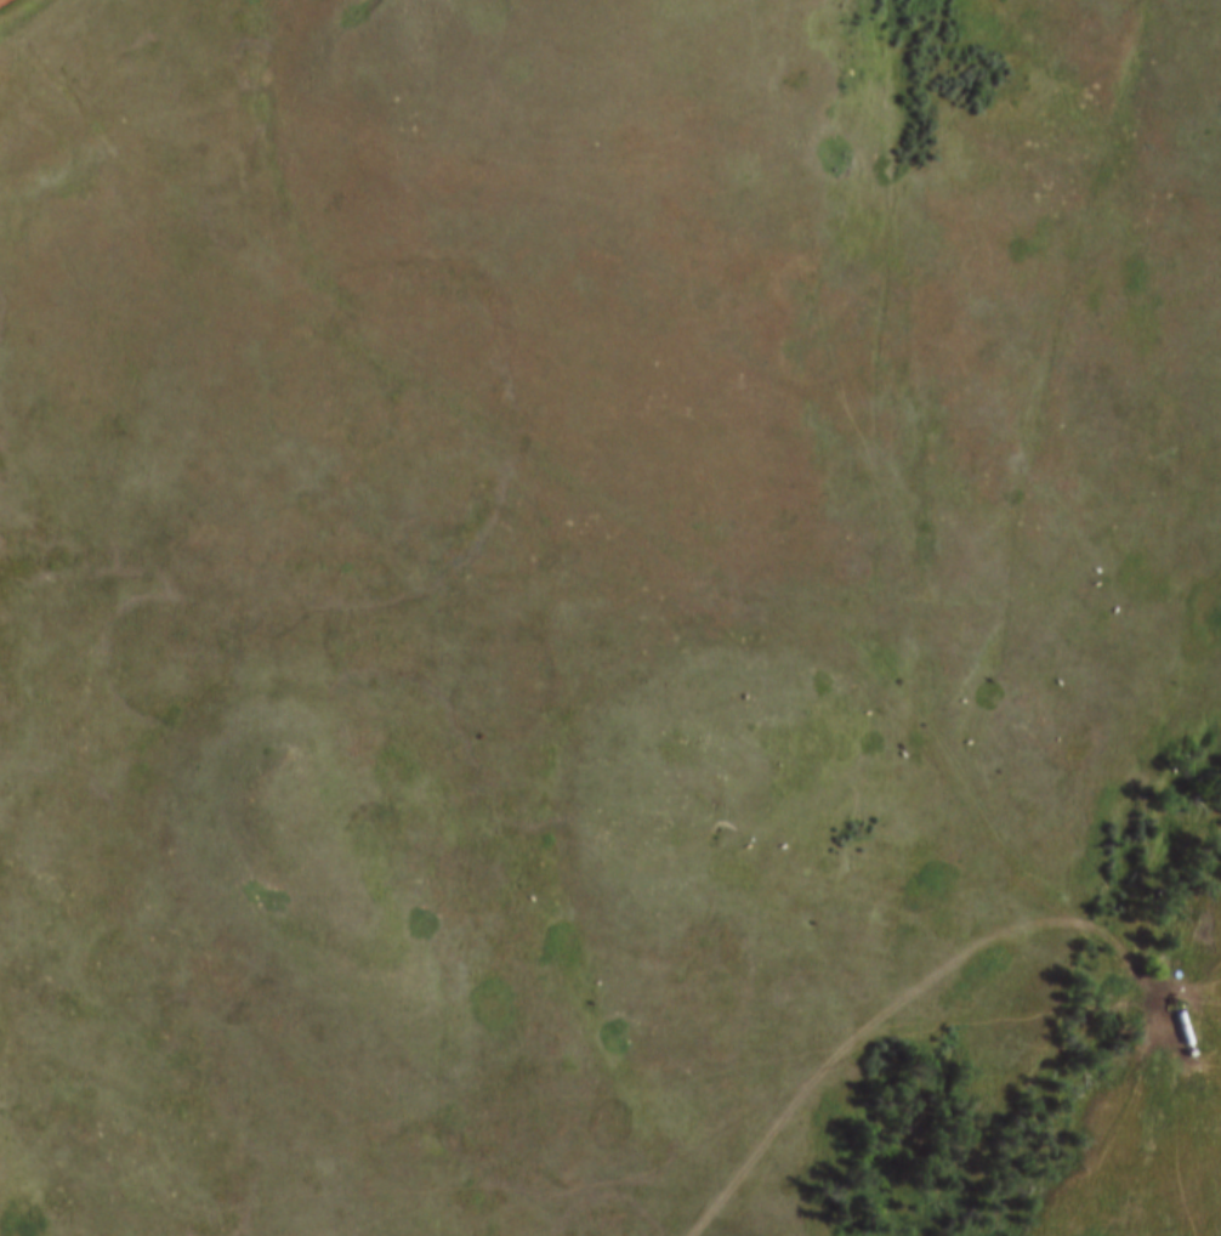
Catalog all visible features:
road: (654, 537)

